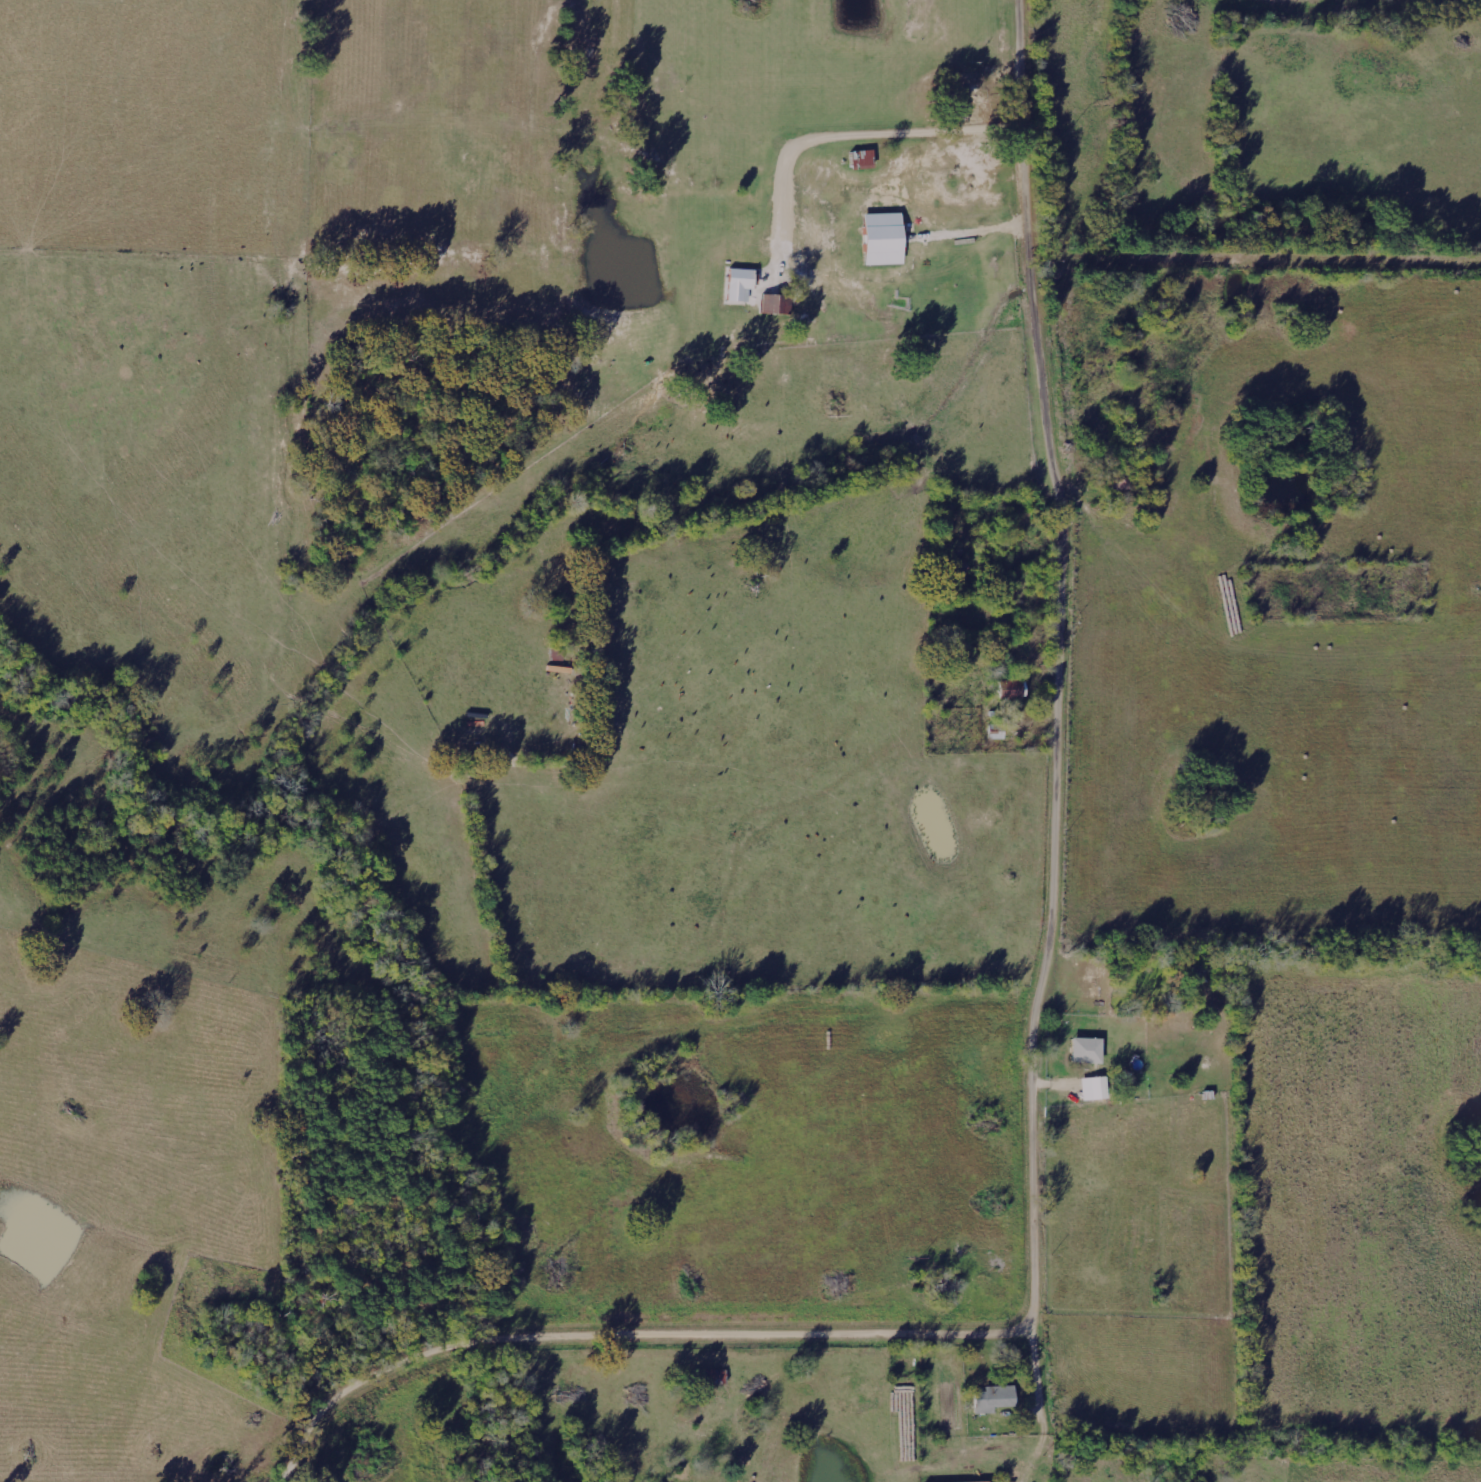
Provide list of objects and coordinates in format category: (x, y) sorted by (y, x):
building: (877, 239)
building: (735, 286)
building: (1004, 691)
building: (1083, 1050)
road: (1039, 1066)
building: (1091, 1088)
building: (990, 1399)

